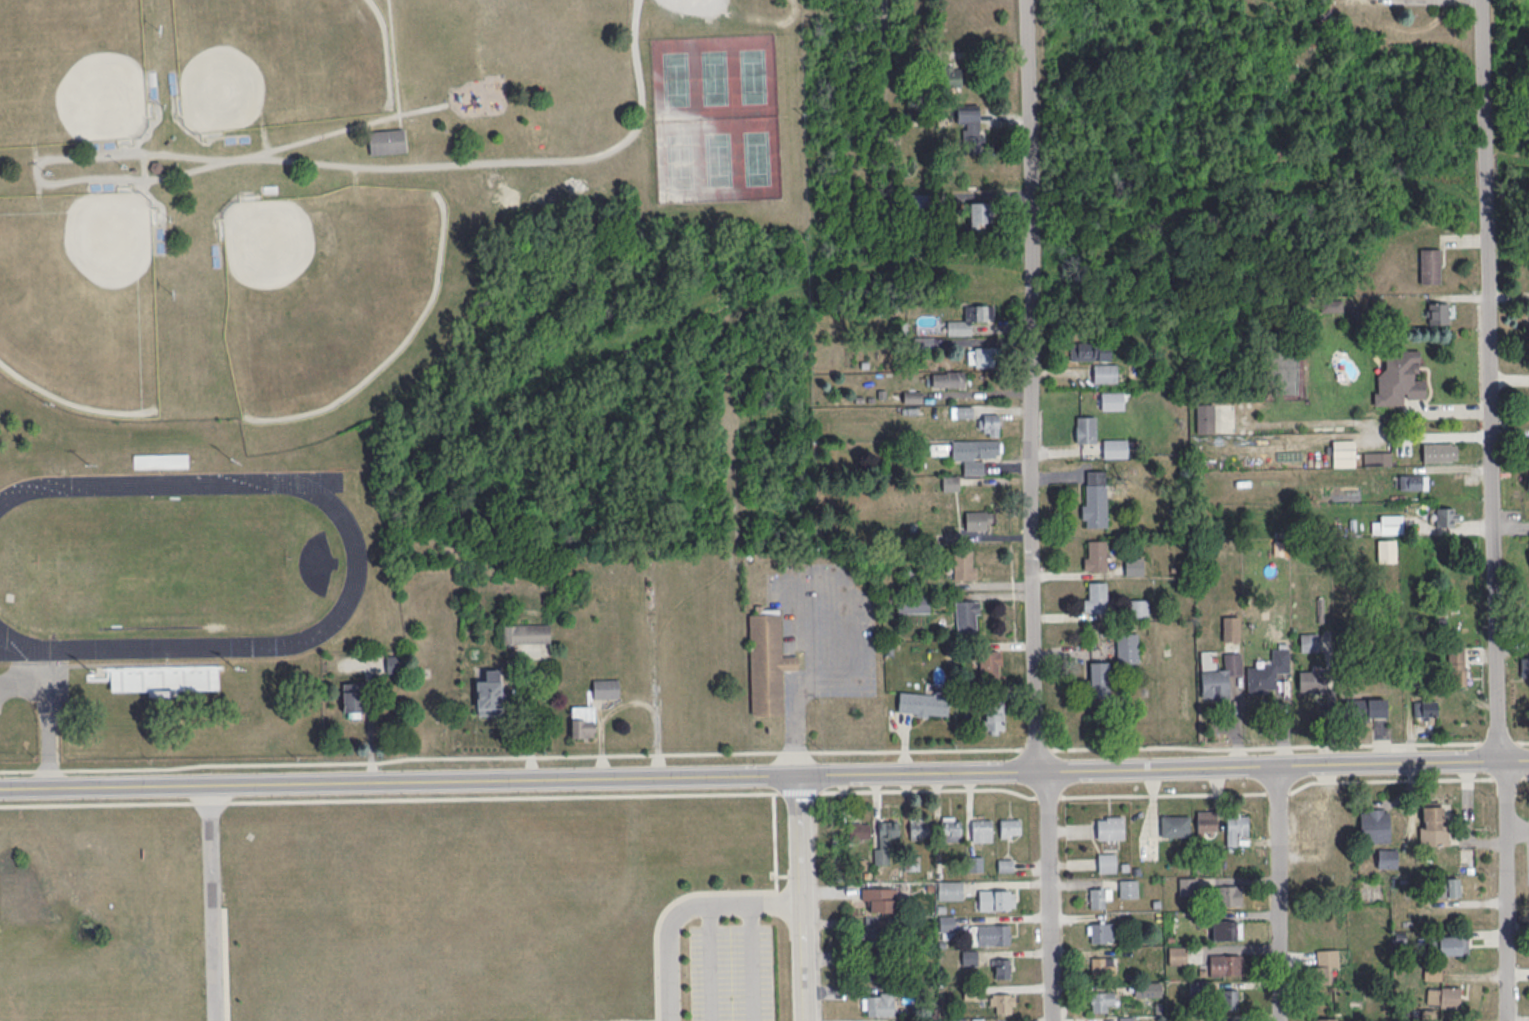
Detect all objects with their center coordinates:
parking lot: (698, 6)
park: (277, 64)
park: (71, 72)
building: (952, 75)
park: (716, 118)
building: (971, 127)
building: (387, 143)
road: (100, 149)
road: (502, 162)
road: (144, 174)
road: (143, 180)
building: (917, 200)
building: (980, 211)
building: (1429, 265)
park: (458, 277)
park: (325, 290)
park: (79, 295)
building: (1438, 312)
building: (969, 319)
building: (923, 343)
building: (1090, 350)
building: (981, 356)
building: (1104, 372)
building: (947, 378)
building: (1397, 378)
road: (1509, 381)
road: (1031, 387)
building: (912, 397)
building: (1112, 399)
building: (961, 411)
building: (988, 423)
building: (1204, 424)
building: (1085, 428)
building: (1114, 447)
building: (938, 448)
building: (1430, 451)
building: (974, 453)
building: (1343, 453)
building: (1377, 458)
building: (1413, 481)
building: (1094, 504)
road: (1497, 510)
building: (1447, 516)
building: (978, 519)
building: (1388, 524)
building: (1387, 550)
building: (1094, 555)
track: (173, 564)
building: (964, 564)
building: (1133, 565)
building: (1095, 596)
building: (913, 603)
building: (1138, 608)
road: (852, 613)
building: (966, 616)
building: (1230, 628)
building: (526, 633)
building: (1126, 648)
building: (989, 663)
building: (767, 664)
building: (1525, 664)
building: (1456, 665)
building: (1220, 677)
building: (1261, 677)
building: (1100, 678)
building: (1317, 685)
building: (605, 687)
building: (489, 693)
building: (352, 696)
building: (922, 703)
building: (1428, 707)
building: (993, 717)
building: (583, 721)
road: (764, 751)
road: (764, 774)
road: (766, 791)
building: (1207, 821)
building: (1374, 822)
building: (1174, 825)
building: (1433, 825)
building: (1010, 827)
building: (1109, 827)
building: (1236, 827)
building: (950, 828)
building: (919, 829)
building: (981, 830)
building: (1308, 831)
building: (1106, 862)
building: (975, 863)
building: (1127, 887)
building: (1447, 887)
building: (950, 889)
road: (1280, 891)
building: (1229, 895)
building: (1098, 896)
road: (807, 897)
road: (1049, 897)
building: (879, 899)
building: (996, 899)
road: (214, 902)
road: (778, 902)
building: (947, 923)
building: (1226, 929)
road: (670, 930)
building: (1099, 931)
building: (990, 933)
building: (1452, 945)
building: (880, 949)
building: (1177, 954)
road: (711, 962)
road: (750, 962)
building: (1223, 964)
building: (1100, 965)
building: (1002, 967)
building: (1443, 996)
building: (1100, 999)
building: (1229, 999)
building: (1002, 1002)
building: (877, 1003)
building: (1326, 1019)

